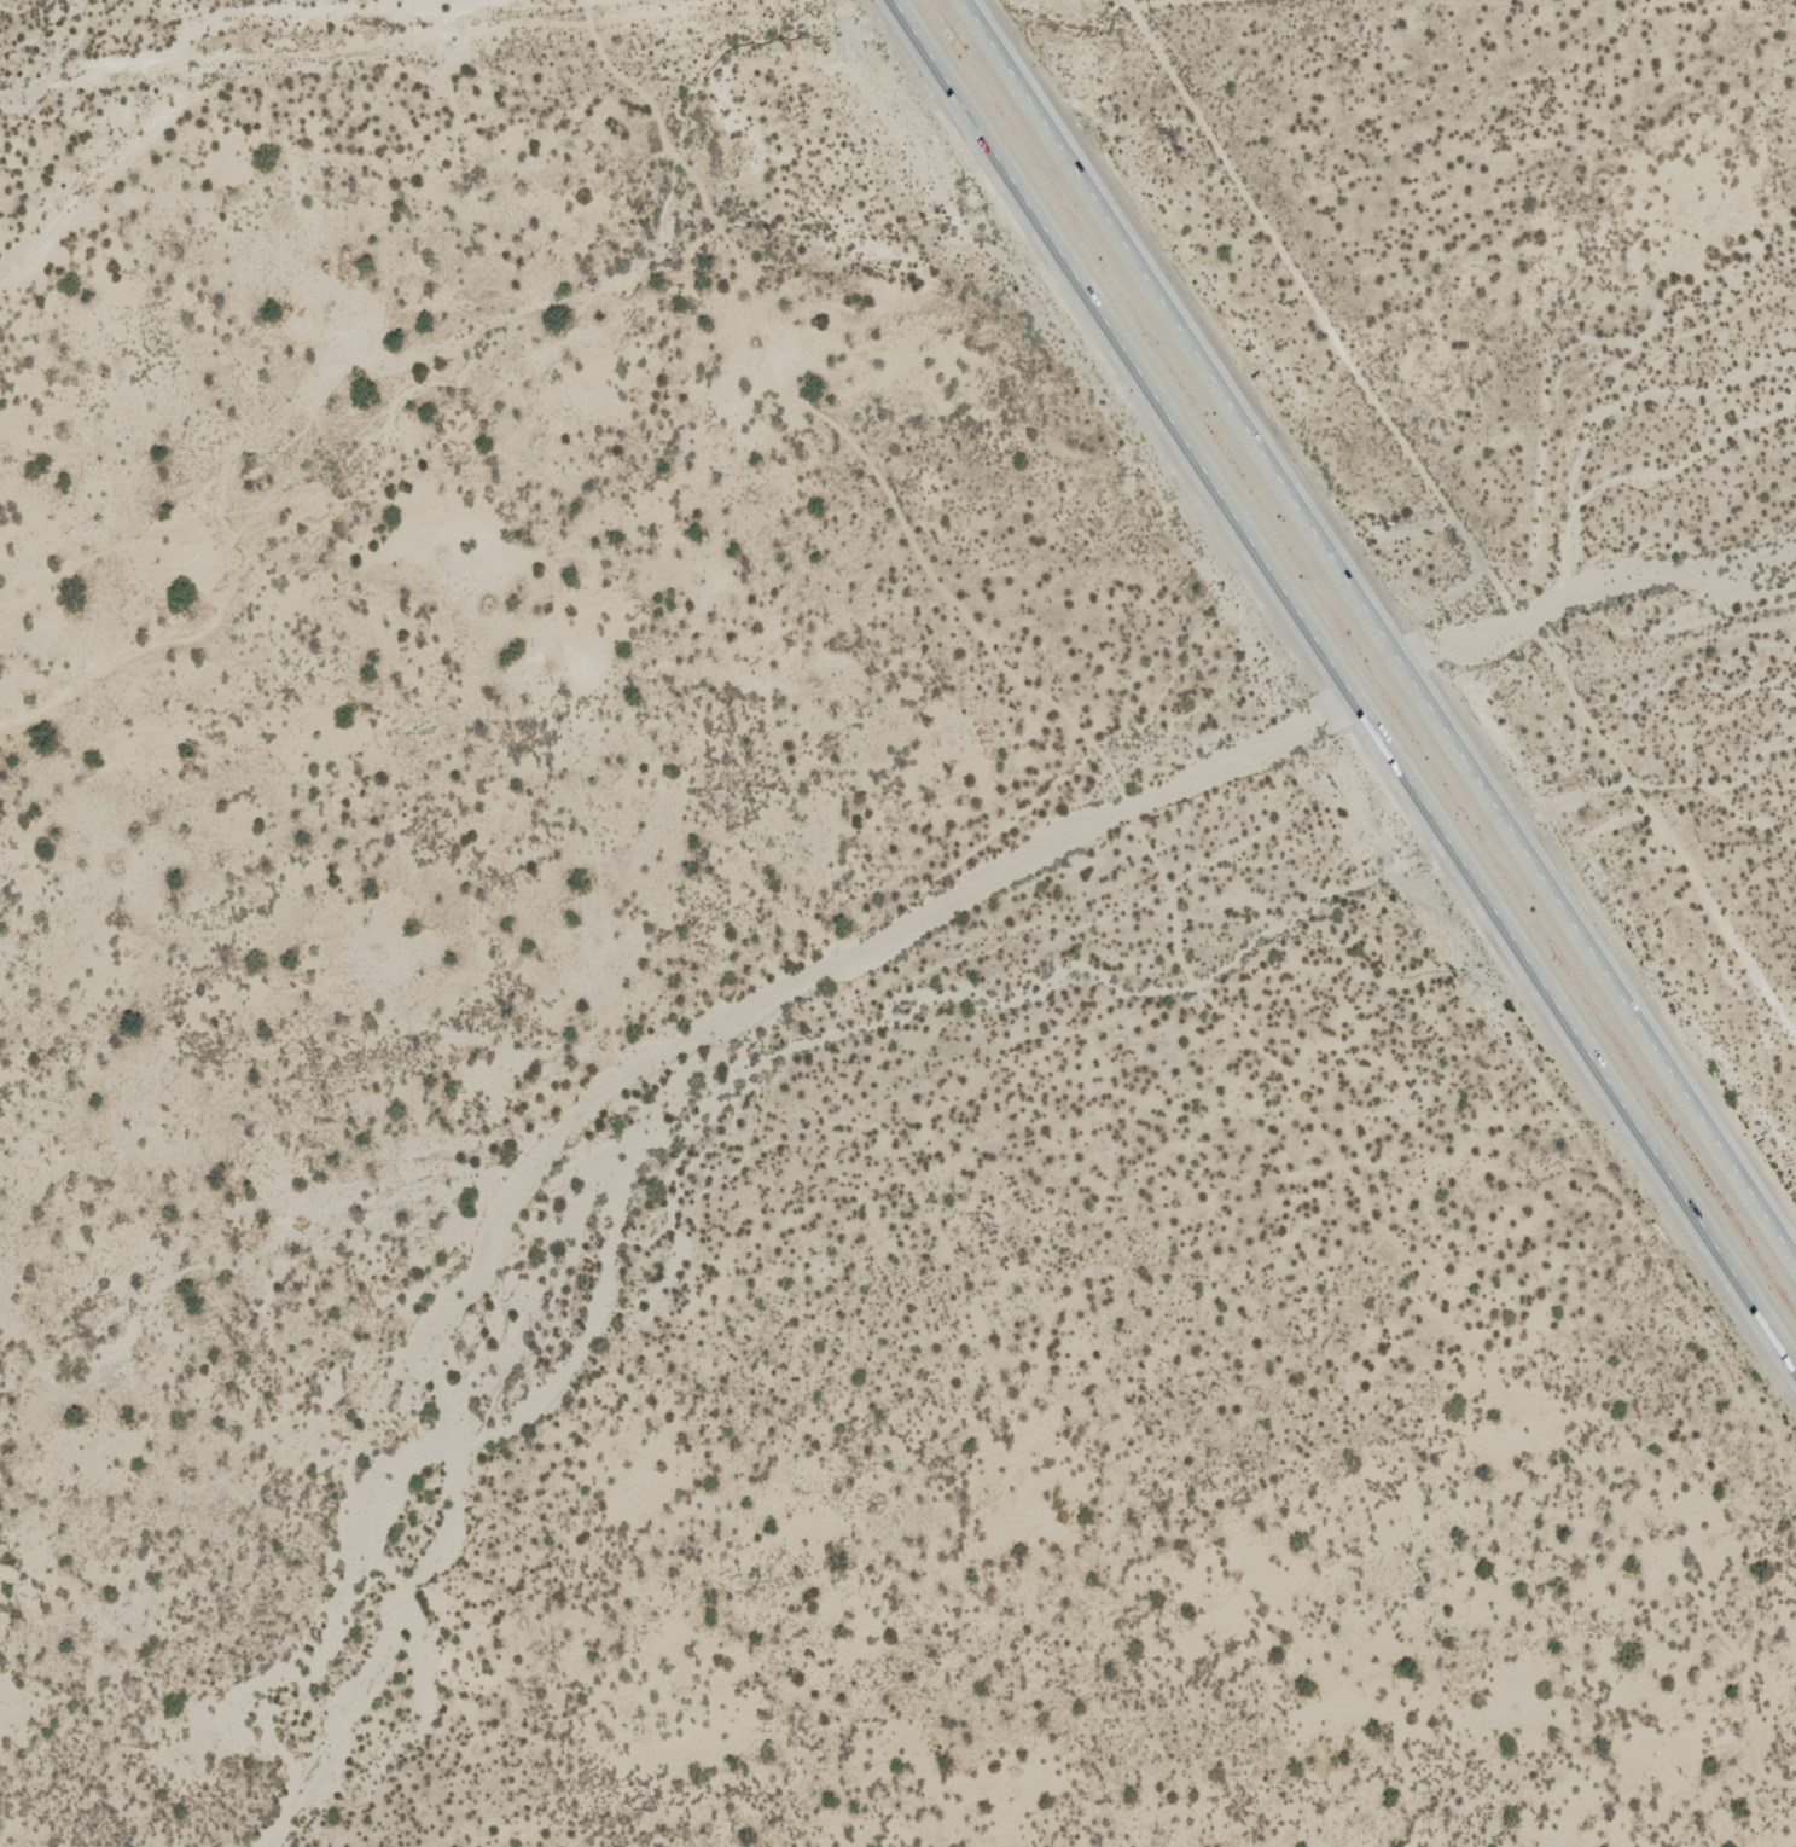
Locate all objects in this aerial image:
road: (1128, 4)
road: (1174, 4)
road: (354, 37)
road: (141, 98)
road: (1458, 515)
road: (1374, 634)
road: (1342, 685)
road: (818, 884)
road: (339, 1808)

